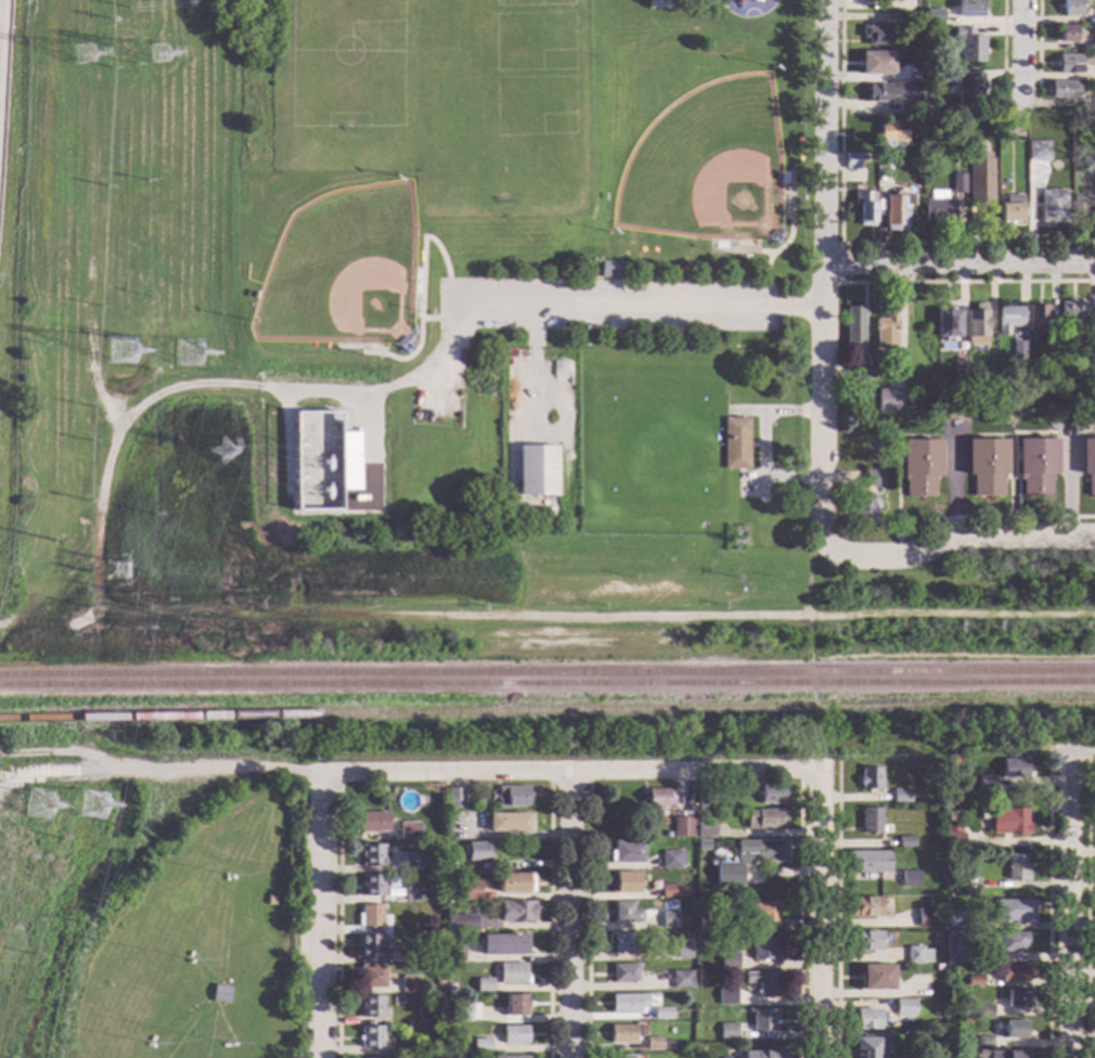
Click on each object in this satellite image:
building: (656, 0)
building: (1072, 8)
building: (969, 9)
building: (932, 16)
building: (910, 23)
building: (1068, 34)
building: (877, 35)
building: (1093, 43)
building: (967, 44)
road: (1001, 51)
road: (1018, 51)
road: (1036, 52)
power tower: (159, 56)
power tower: (81, 59)
park: (346, 63)
building: (876, 63)
building: (1067, 64)
building: (966, 88)
building: (1061, 90)
building: (879, 93)
park: (501, 100)
building: (907, 103)
building: (1010, 127)
building: (892, 131)
building: (1038, 152)
building: (862, 157)
building: (851, 160)
park: (706, 166)
building: (883, 175)
building: (979, 179)
building: (957, 183)
building: (1051, 205)
building: (1091, 206)
building: (938, 207)
building: (1078, 207)
building: (864, 208)
building: (1009, 209)
building: (894, 211)
building: (777, 234)
road: (843, 244)
road: (959, 262)
road: (838, 263)
building: (610, 270)
park: (340, 271)
road: (823, 278)
road: (966, 282)
park: (524, 299)
parking lot: (608, 306)
road: (637, 307)
building: (1075, 317)
building: (1036, 318)
building: (1007, 319)
building: (578, 322)
building: (946, 323)
building: (853, 325)
building: (975, 326)
building: (885, 332)
building: (1017, 350)
building: (919, 352)
power tower: (119, 354)
power tower: (191, 359)
building: (861, 370)
building: (957, 370)
road: (215, 384)
building: (922, 388)
building: (888, 401)
building: (1027, 405)
road: (1012, 435)
road: (942, 436)
building: (867, 442)
building: (734, 443)
power tower: (221, 459)
building: (347, 461)
building: (1088, 463)
power substation: (312, 465)
building: (1035, 465)
building: (920, 466)
building: (987, 466)
building: (537, 470)
building: (876, 478)
road: (952, 481)
road: (1066, 481)
building: (862, 508)
road: (982, 517)
road: (962, 537)
power tower: (114, 575)
power tower: (149, 611)
road: (545, 617)
railway: (547, 673)
railway: (547, 684)
railway: (546, 709)
building: (1014, 767)
road: (569, 770)
building: (869, 778)
building: (986, 785)
railway: (239, 788)
building: (771, 793)
building: (512, 796)
building: (901, 796)
building: (455, 798)
building: (658, 798)
building: (703, 798)
power tower: (38, 811)
power tower: (90, 813)
building: (764, 818)
building: (869, 821)
building: (1008, 821)
building: (371, 822)
building: (507, 822)
building: (682, 826)
building: (952, 827)
building: (705, 828)
building: (408, 831)
building: (904, 841)
building: (954, 841)
building: (475, 851)
building: (761, 851)
building: (627, 852)
building: (371, 855)
building: (936, 856)
building: (671, 859)
building: (411, 861)
building: (869, 861)
building: (450, 865)
building: (1017, 866)
building: (706, 872)
building: (450, 875)
building: (955, 876)
building: (223, 879)
building: (909, 879)
building: (515, 882)
building: (626, 882)
building: (371, 886)
building: (469, 890)
building: (673, 891)
building: (412, 893)
building: (866, 906)
road: (1047, 908)
road: (1086, 908)
building: (1014, 909)
building: (517, 911)
road: (837, 911)
road: (1070, 911)
building: (626, 913)
building: (760, 913)
road: (572, 914)
road: (820, 914)
building: (927, 915)
road: (322, 916)
building: (370, 916)
building: (668, 919)
building: (461, 921)
building: (953, 922)
building: (707, 924)
building: (686, 936)
building: (624, 941)
building: (865, 941)
building: (1013, 941)
building: (504, 944)
building: (370, 945)
building: (954, 946)
building: (763, 949)
building: (454, 950)
building: (683, 951)
building: (916, 955)
building: (399, 956)
building: (938, 956)
building: (729, 960)
building: (189, 962)
building: (447, 965)
road: (273, 966)
building: (938, 969)
building: (1015, 972)
building: (512, 973)
building: (623, 973)
building: (372, 977)
building: (876, 978)
building: (681, 980)
building: (975, 981)
building: (409, 983)
building: (763, 983)
building: (484, 984)
building: (438, 986)
building: (450, 988)
building: (218, 994)
building: (437, 996)
building: (726, 996)
building: (1016, 998)
building: (628, 1003)
building: (515, 1004)
building: (371, 1006)
building: (904, 1007)
building: (936, 1009)
building: (984, 1010)
building: (460, 1011)
building: (661, 1014)
building: (763, 1019)
building: (865, 1019)
building: (713, 1027)
building: (386, 1028)
building: (1014, 1030)
building: (404, 1031)
building: (727, 1031)
building: (623, 1033)
building: (514, 1035)
building: (371, 1037)
building: (983, 1041)
building: (657, 1043)
building: (936, 1044)
building: (221, 1045)
building: (480, 1045)
building: (150, 1046)
building: (866, 1048)
building: (954, 1054)
building: (1000, 1054)
building: (764, 1055)
building: (622, 1056)
building: (510, 1057)

